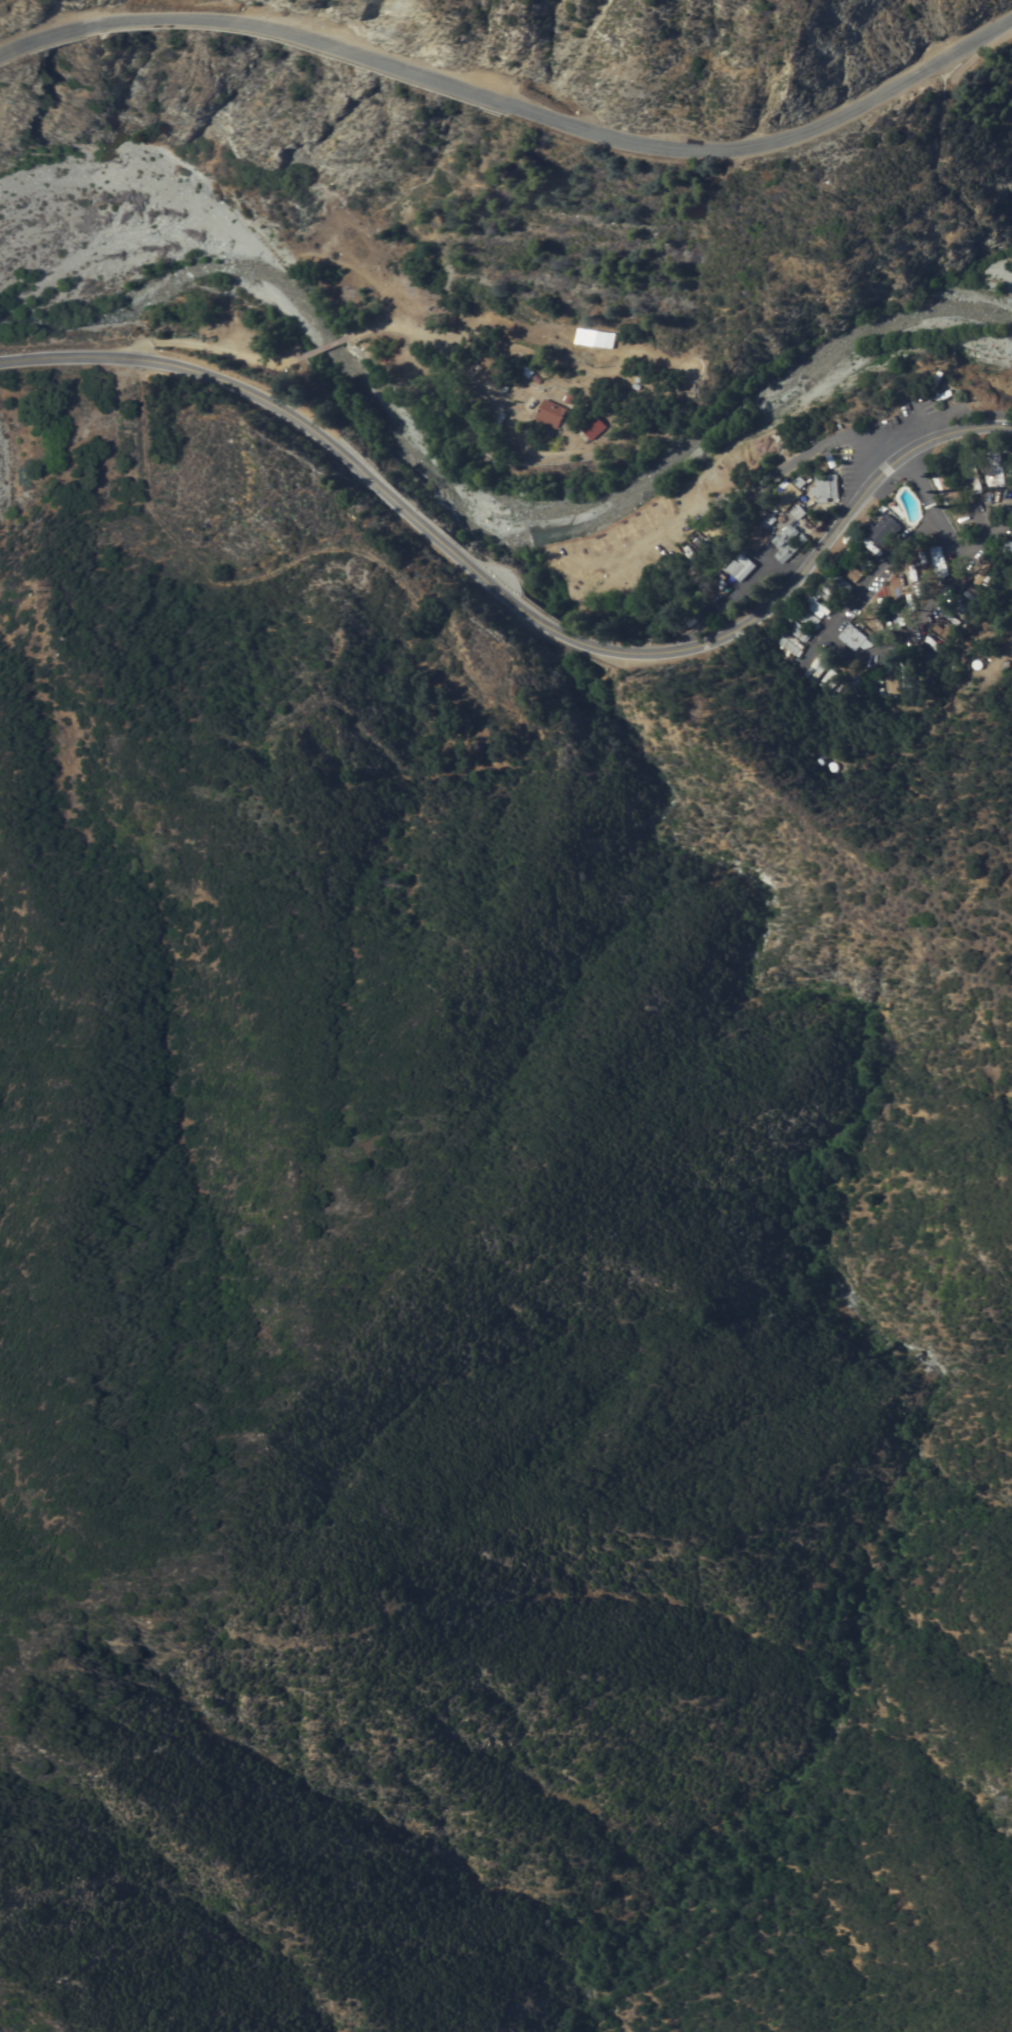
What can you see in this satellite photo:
road: (515, 106)
road: (489, 341)
road: (206, 346)
road: (323, 348)
road: (417, 362)
building: (490, 364)
building: (524, 364)
building: (946, 390)
road: (503, 407)
building: (551, 412)
building: (594, 426)
road: (755, 434)
road: (824, 444)
building: (1009, 463)
building: (996, 467)
road: (882, 469)
building: (972, 476)
building: (826, 486)
building: (949, 486)
river: (490, 487)
building: (790, 492)
building: (798, 510)
road: (980, 520)
road: (667, 521)
building: (715, 527)
building: (885, 528)
road: (990, 533)
building: (758, 539)
building: (789, 541)
building: (1008, 545)
building: (690, 551)
building: (860, 558)
building: (939, 560)
building: (681, 563)
building: (743, 565)
building: (849, 567)
building: (984, 569)
building: (839, 581)
road: (736, 595)
building: (973, 596)
building: (908, 598)
building: (963, 605)
road: (514, 606)
building: (819, 606)
building: (601, 612)
building: (806, 614)
building: (897, 615)
building: (801, 631)
building: (943, 631)
building: (854, 636)
road: (836, 640)
building: (789, 642)
building: (923, 655)
building: (815, 666)
building: (826, 679)
building: (869, 680)
building: (889, 680)
building: (903, 680)
building: (851, 681)

